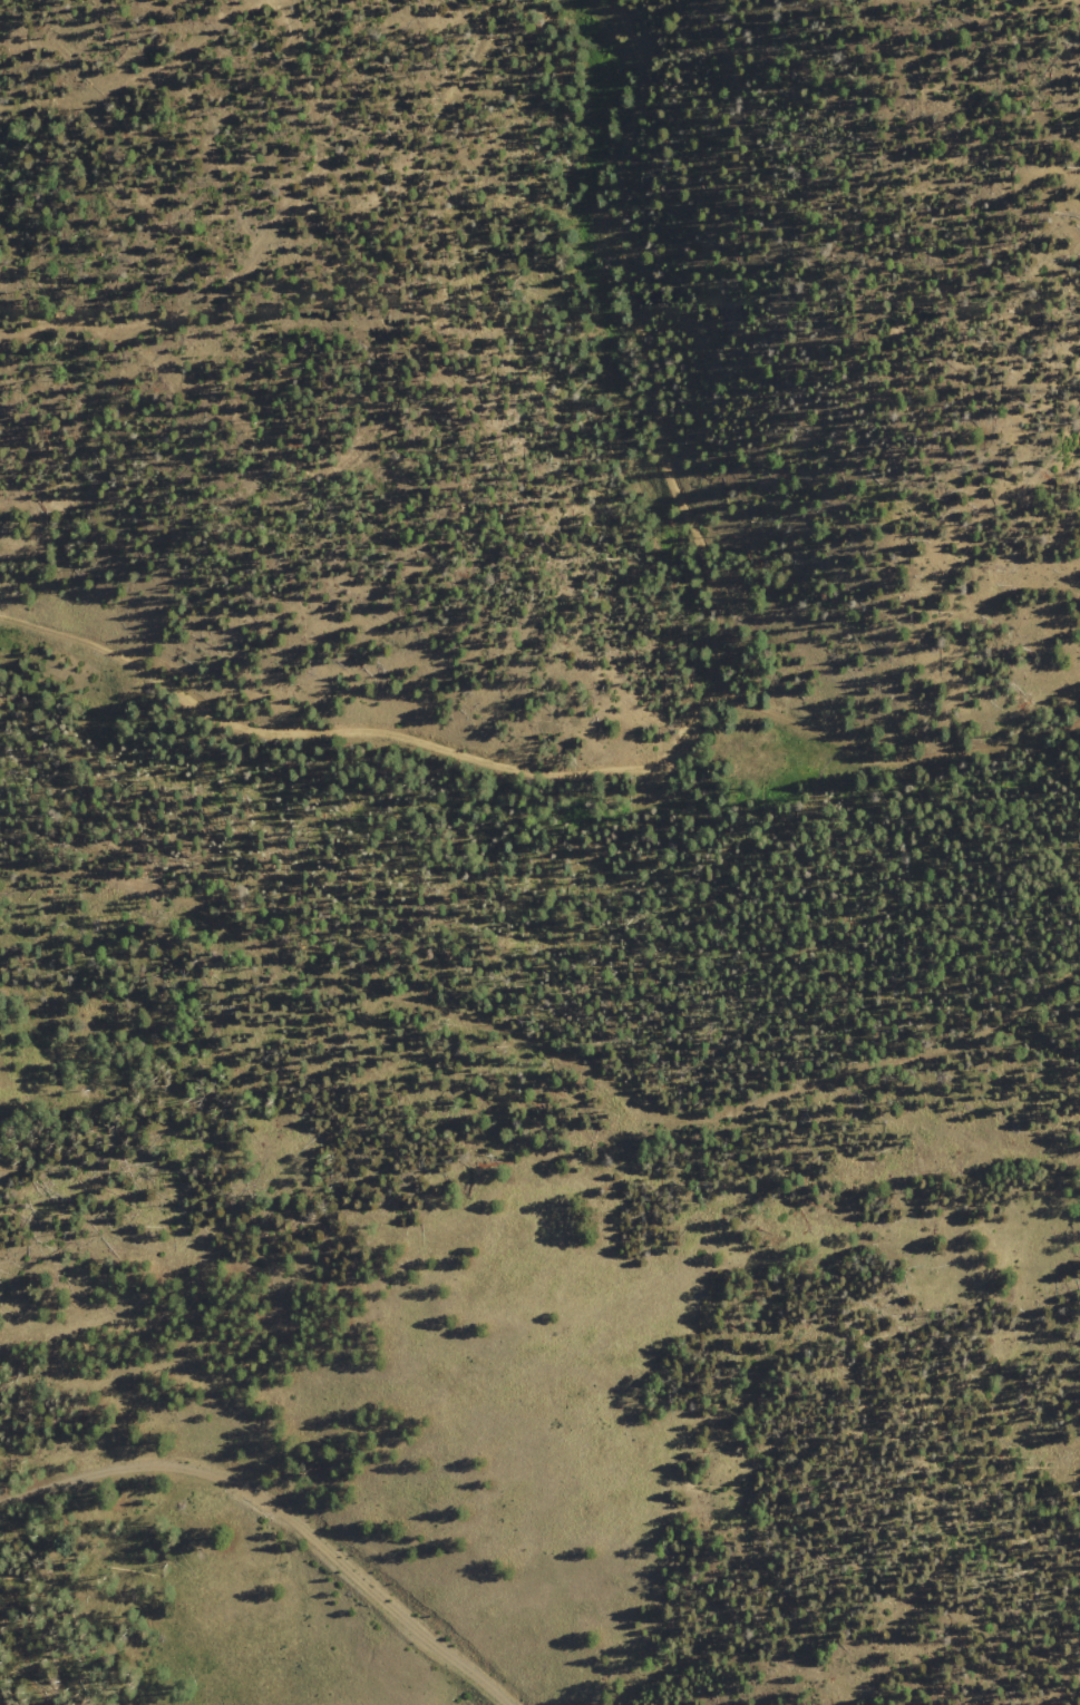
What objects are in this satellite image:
road: (543, 786)
road: (280, 1567)

